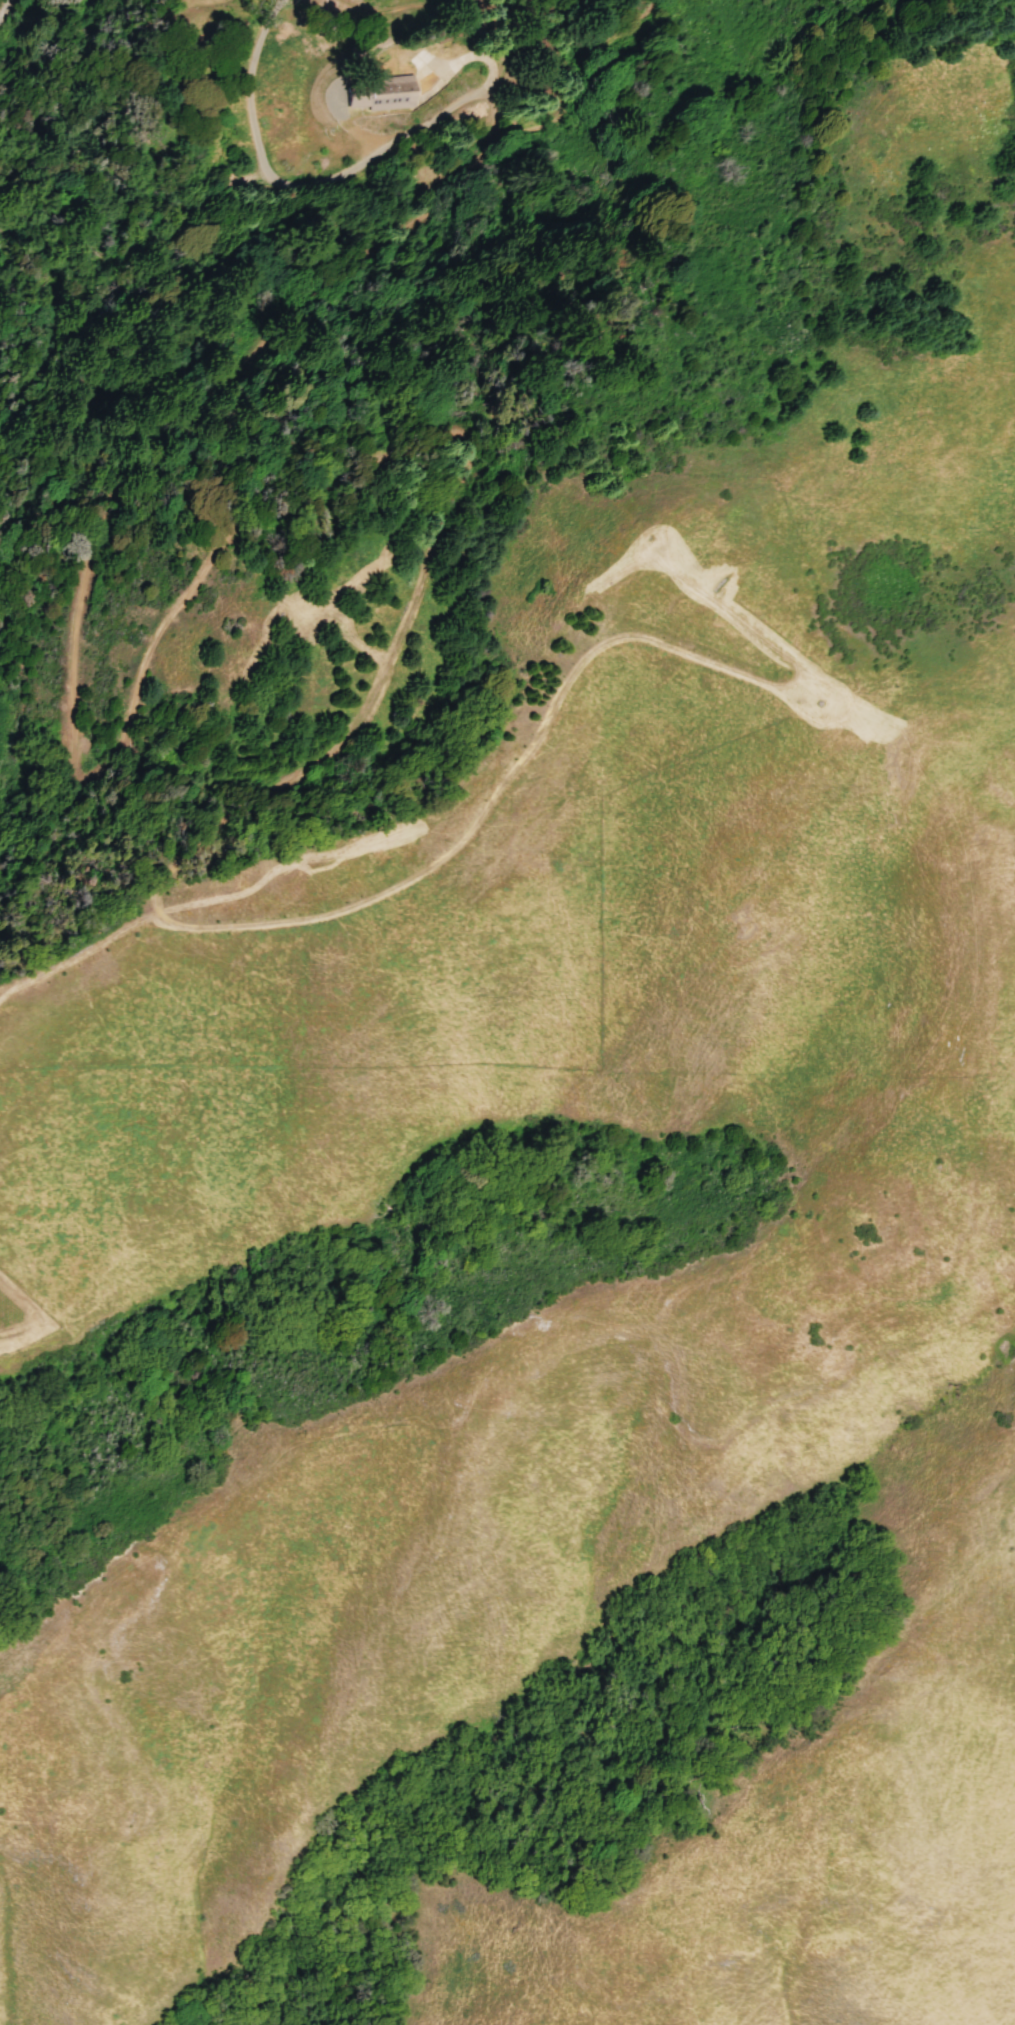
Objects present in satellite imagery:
road: (6, 7)

